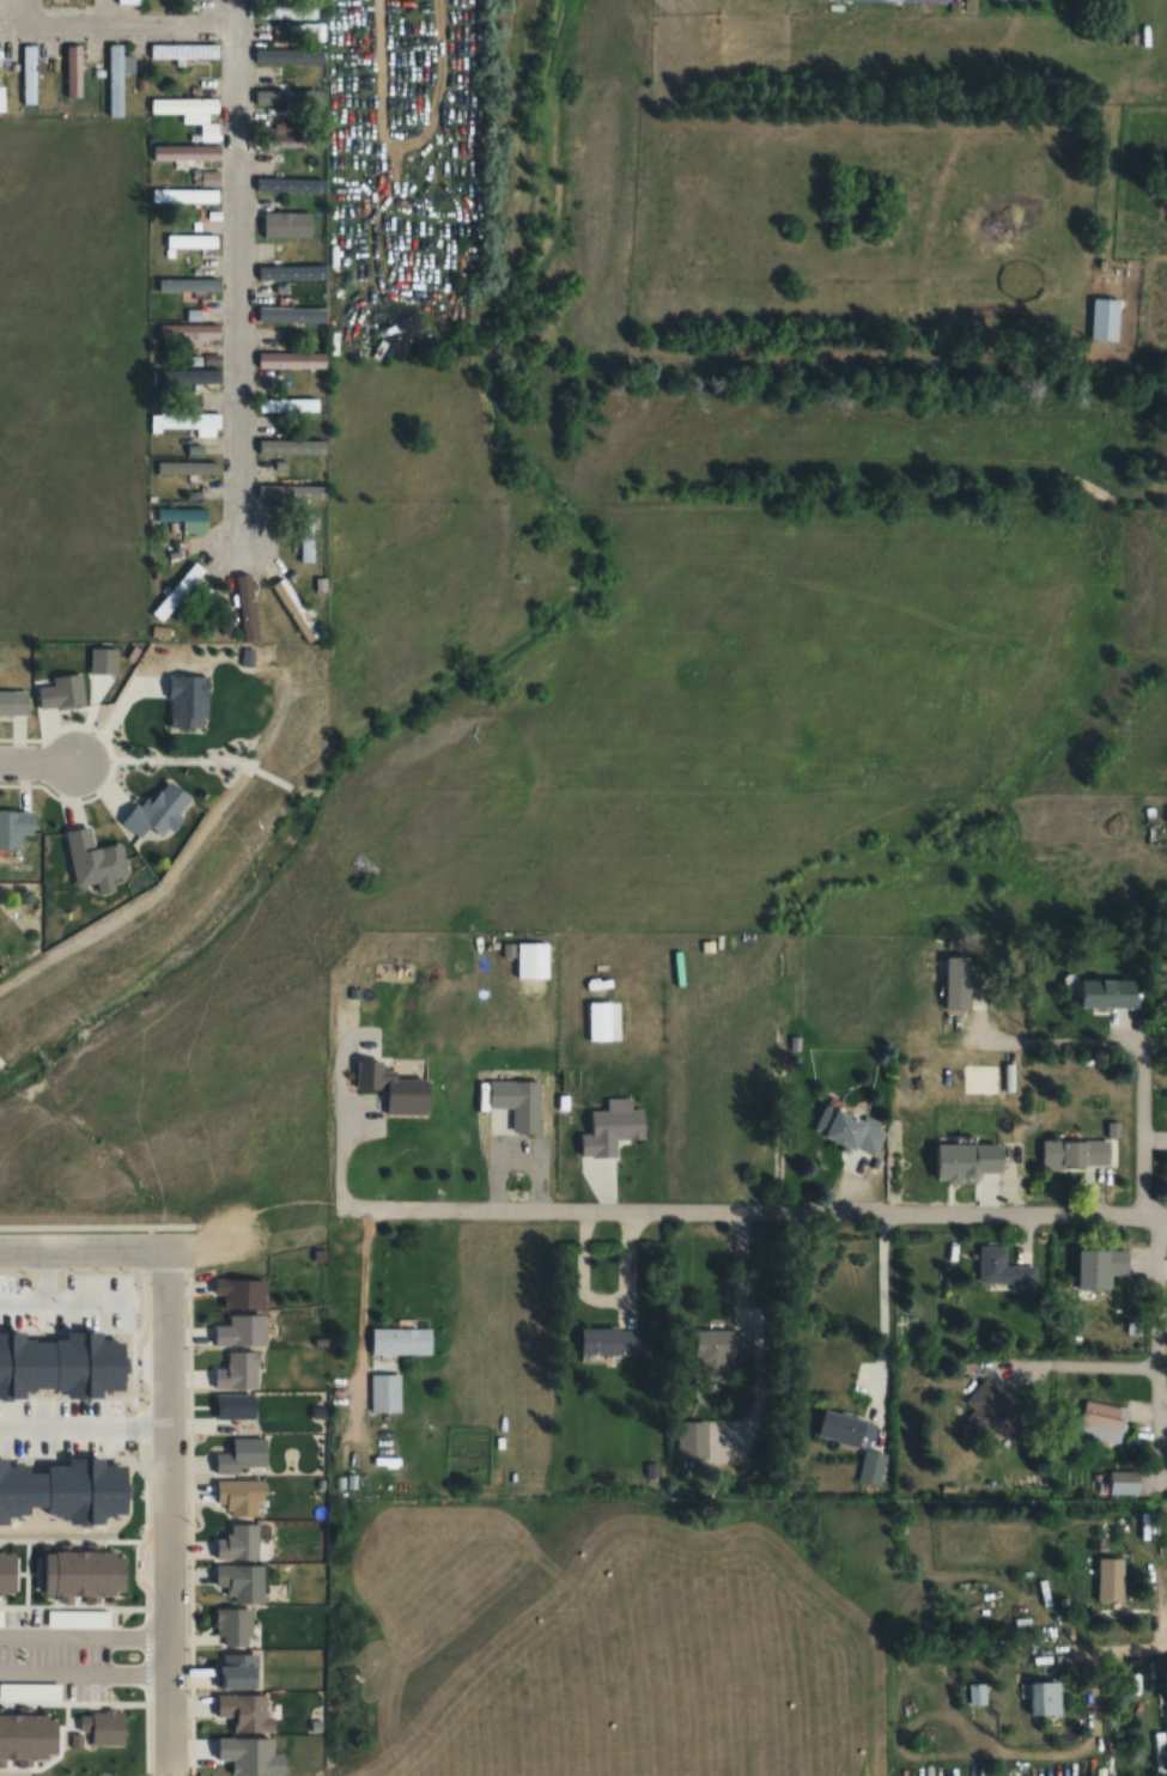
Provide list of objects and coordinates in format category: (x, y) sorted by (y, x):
building: (920, 0)
building: (290, 10)
road: (110, 19)
building: (183, 50)
building: (287, 55)
building: (30, 74)
building: (115, 79)
building: (285, 91)
building: (2, 97)
building: (186, 108)
building: (287, 139)
building: (186, 151)
building: (287, 184)
building: (183, 194)
road: (403, 213)
building: (286, 224)
building: (192, 239)
road: (233, 269)
building: (287, 273)
building: (188, 284)
building: (282, 316)
building: (1105, 318)
building: (189, 330)
building: (291, 360)
building: (189, 376)
building: (287, 405)
building: (187, 422)
building: (286, 446)
building: (187, 467)
building: (287, 492)
building: (182, 513)
building: (305, 546)
building: (177, 590)
building: (247, 607)
building: (296, 610)
building: (13, 701)
road: (35, 761)
road: (159, 762)
building: (159, 810)
building: (14, 827)
building: (95, 860)
road: (176, 869)
building: (959, 983)
building: (1108, 993)
road: (1071, 1039)
building: (393, 1088)
building: (517, 1102)
building: (849, 1127)
road: (1143, 1132)
building: (1075, 1151)
building: (970, 1160)
road: (753, 1216)
road: (117, 1248)
building: (1101, 1266)
building: (1002, 1267)
building: (237, 1294)
building: (238, 1331)
road: (1153, 1337)
building: (401, 1340)
building: (609, 1340)
building: (719, 1350)
building: (235, 1371)
building: (384, 1392)
building: (231, 1406)
building: (992, 1412)
building: (1100, 1421)
building: (846, 1428)
building: (697, 1441)
building: (238, 1458)
building: (236, 1497)
road: (171, 1512)
building: (233, 1544)
building: (79, 1573)
building: (6, 1574)
building: (1110, 1577)
building: (236, 1583)
building: (227, 1626)
road: (1120, 1647)
building: (1046, 1653)
building: (231, 1672)
building: (975, 1693)
building: (1046, 1697)
building: (28, 1740)

